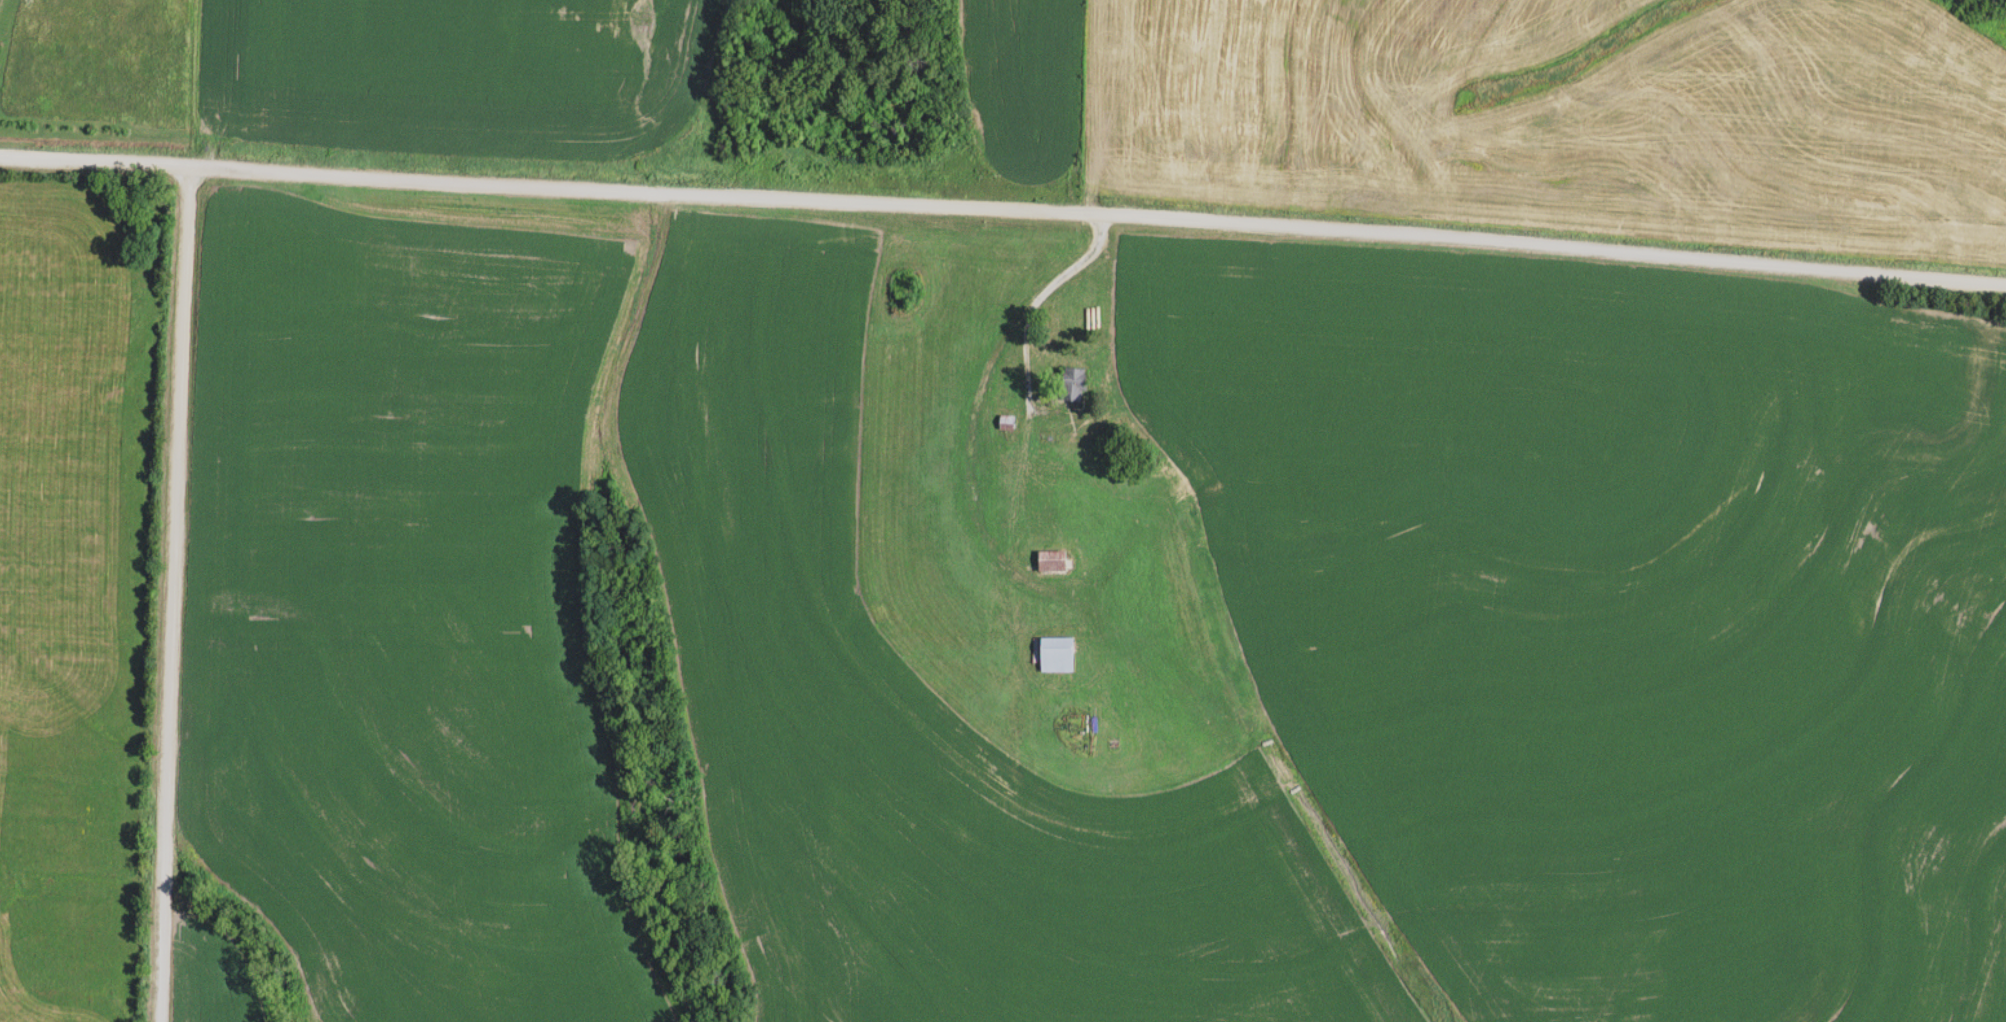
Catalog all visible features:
road: (443, 180)
road: (991, 209)
road: (1551, 246)
road: (1020, 371)
building: (1069, 386)
building: (1001, 423)
building: (1044, 562)
road: (169, 592)
building: (1050, 657)

